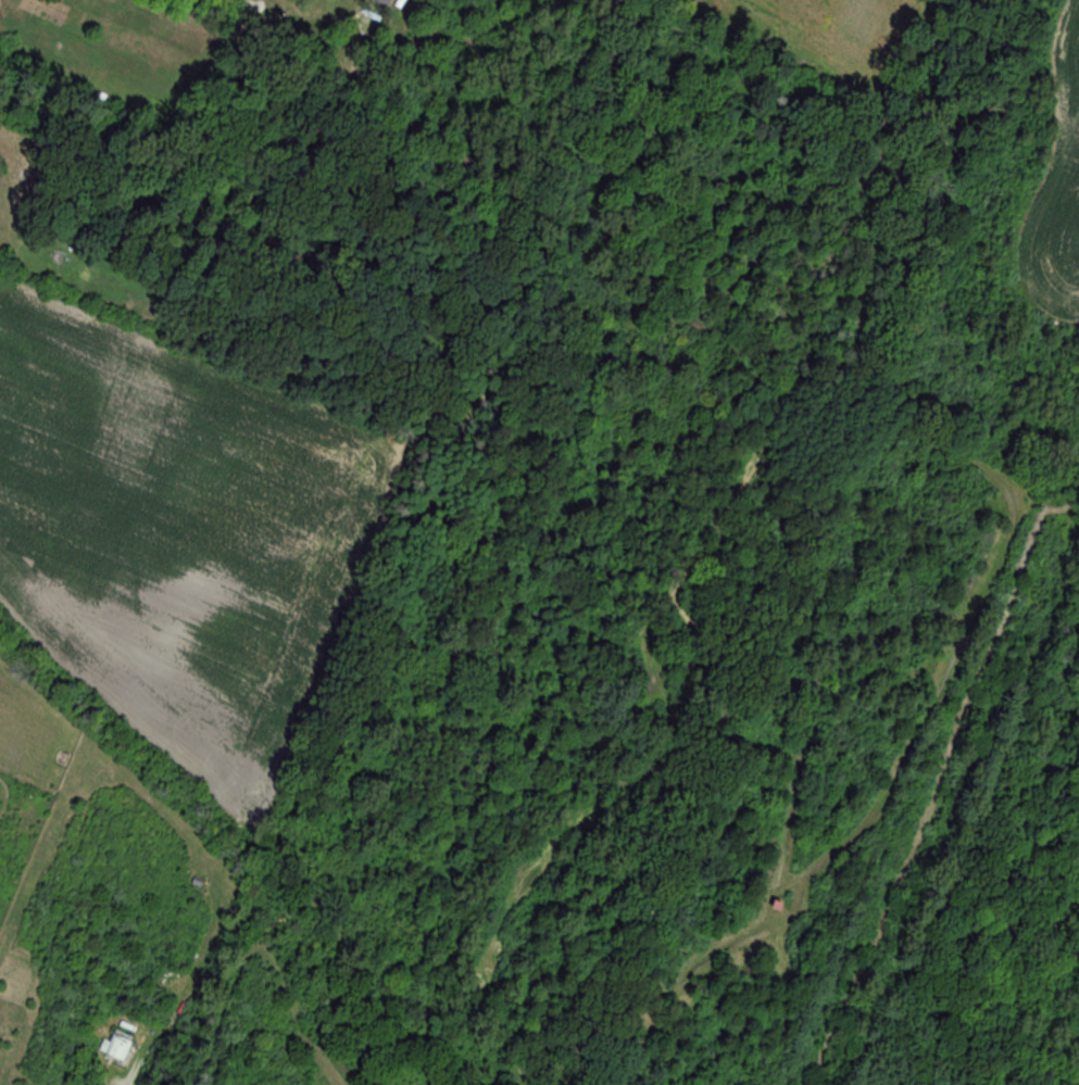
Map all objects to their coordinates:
road: (224, 1)
crop: (817, 23)
crop: (1024, 264)
crop: (181, 532)
building: (116, 1047)

